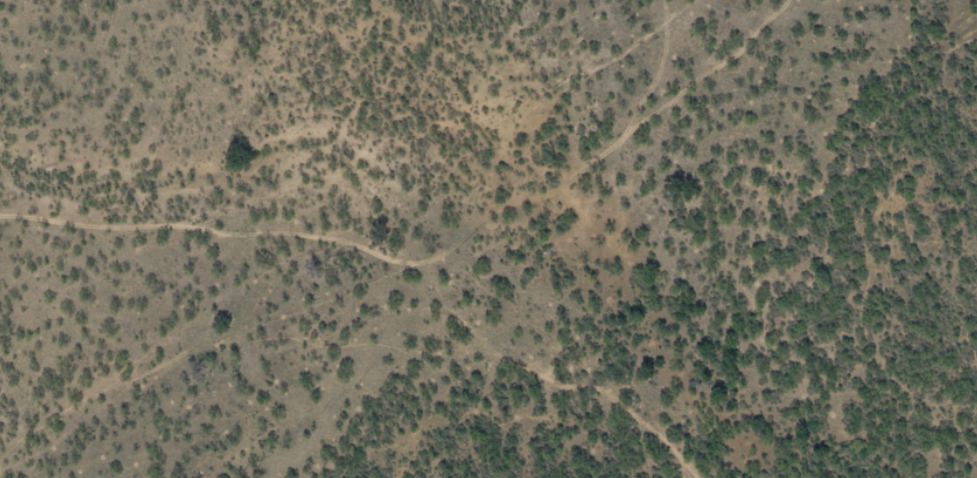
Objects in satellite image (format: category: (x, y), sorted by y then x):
road: (377, 269)

